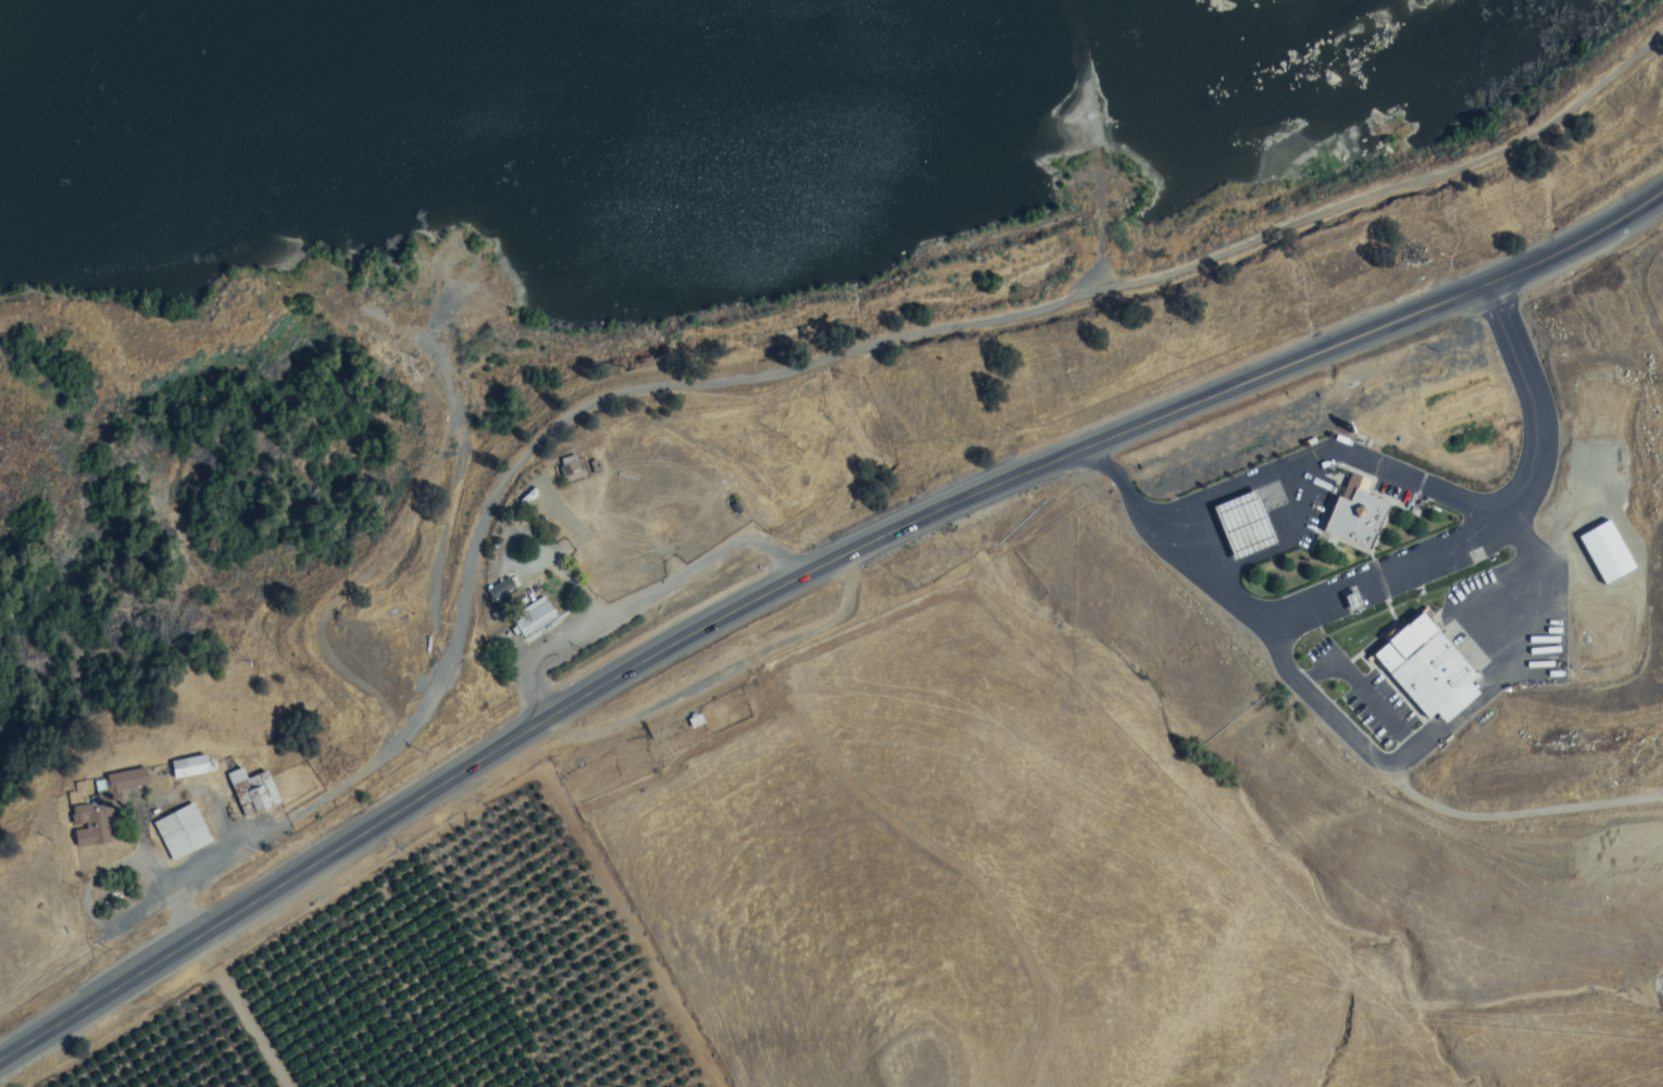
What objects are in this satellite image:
road: (1455, 300)
road: (728, 395)
road: (1536, 401)
road: (1326, 452)
building: (572, 467)
flagpole: (1335, 471)
road: (1122, 482)
building: (1353, 486)
road: (934, 513)
building: (1355, 520)
building: (1243, 526)
building: (1605, 555)
road: (1386, 572)
road: (641, 599)
crop: (974, 612)
building: (533, 616)
building: (1423, 664)
road: (724, 674)
road: (1376, 759)
building: (190, 766)
building: (252, 791)
building: (103, 808)
building: (183, 832)
road: (322, 862)
road: (187, 916)
crop: (421, 977)
crop: (292, 1083)

